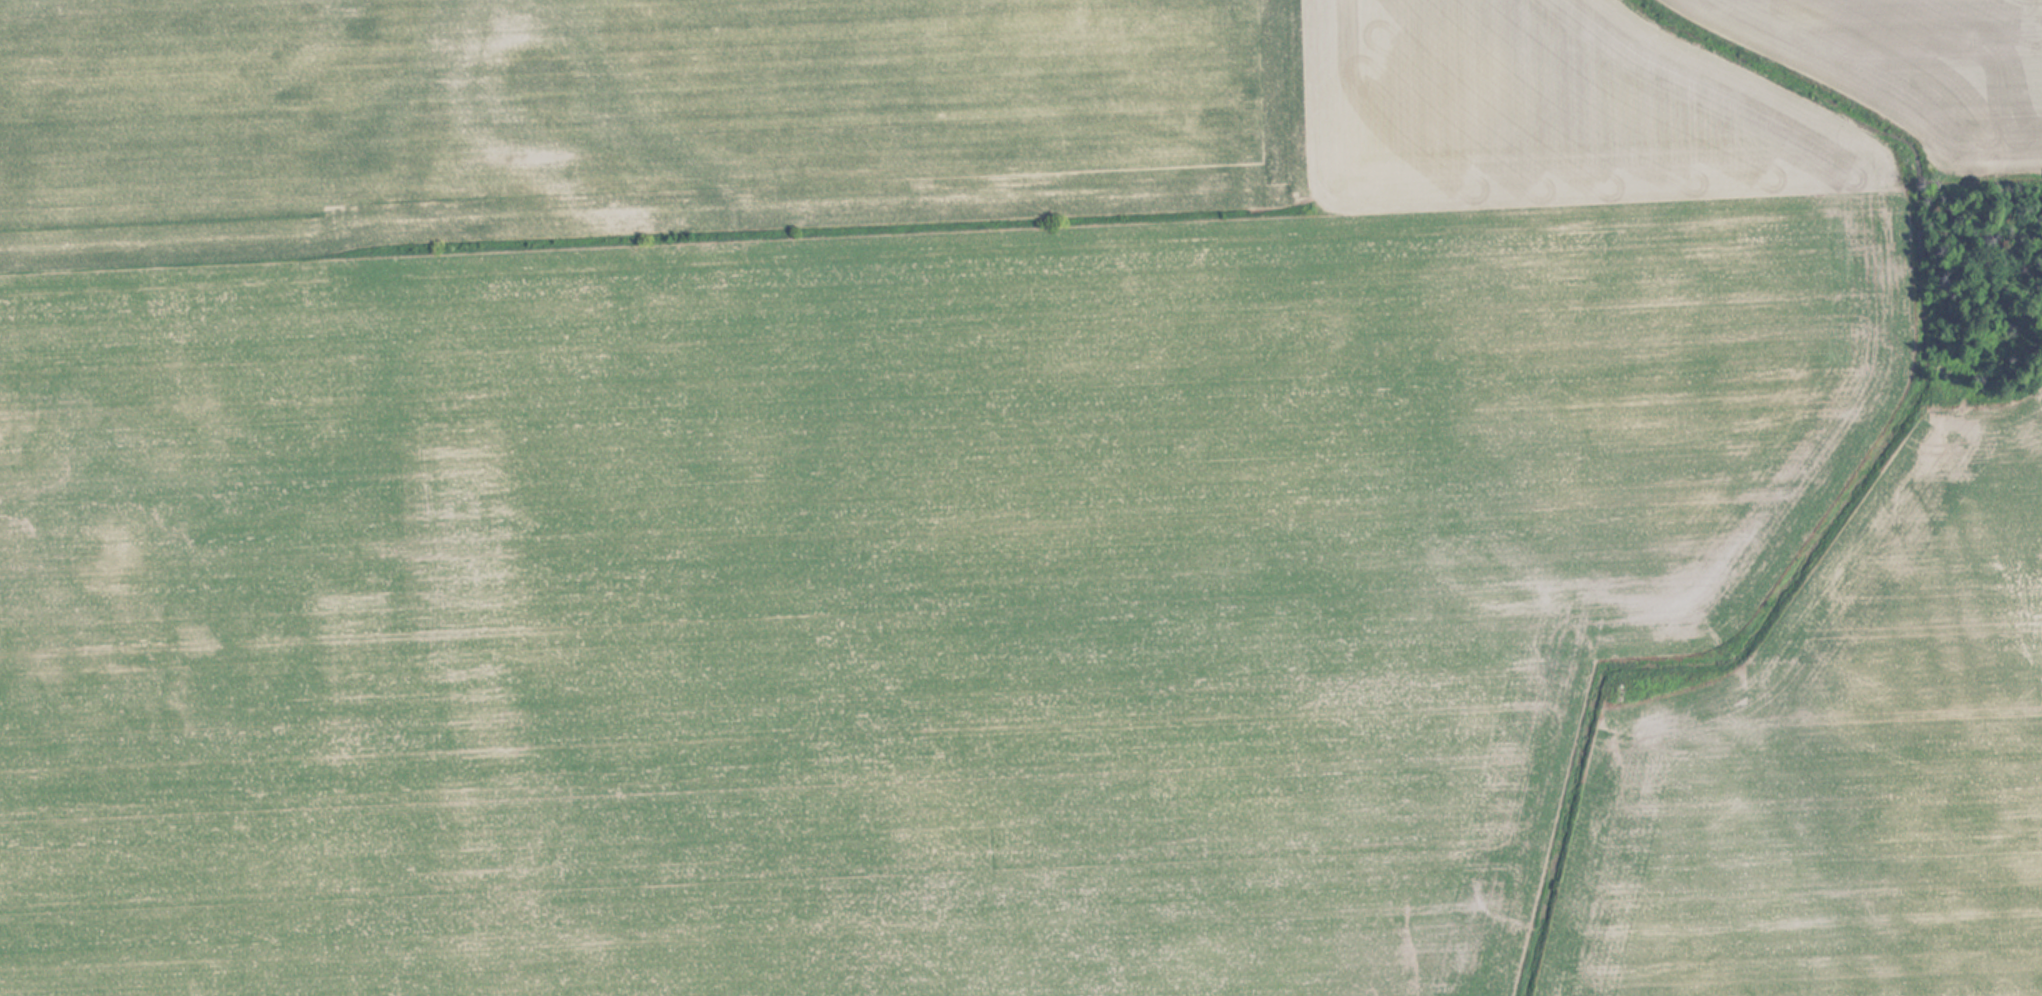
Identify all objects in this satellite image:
crop: (1007, 500)

